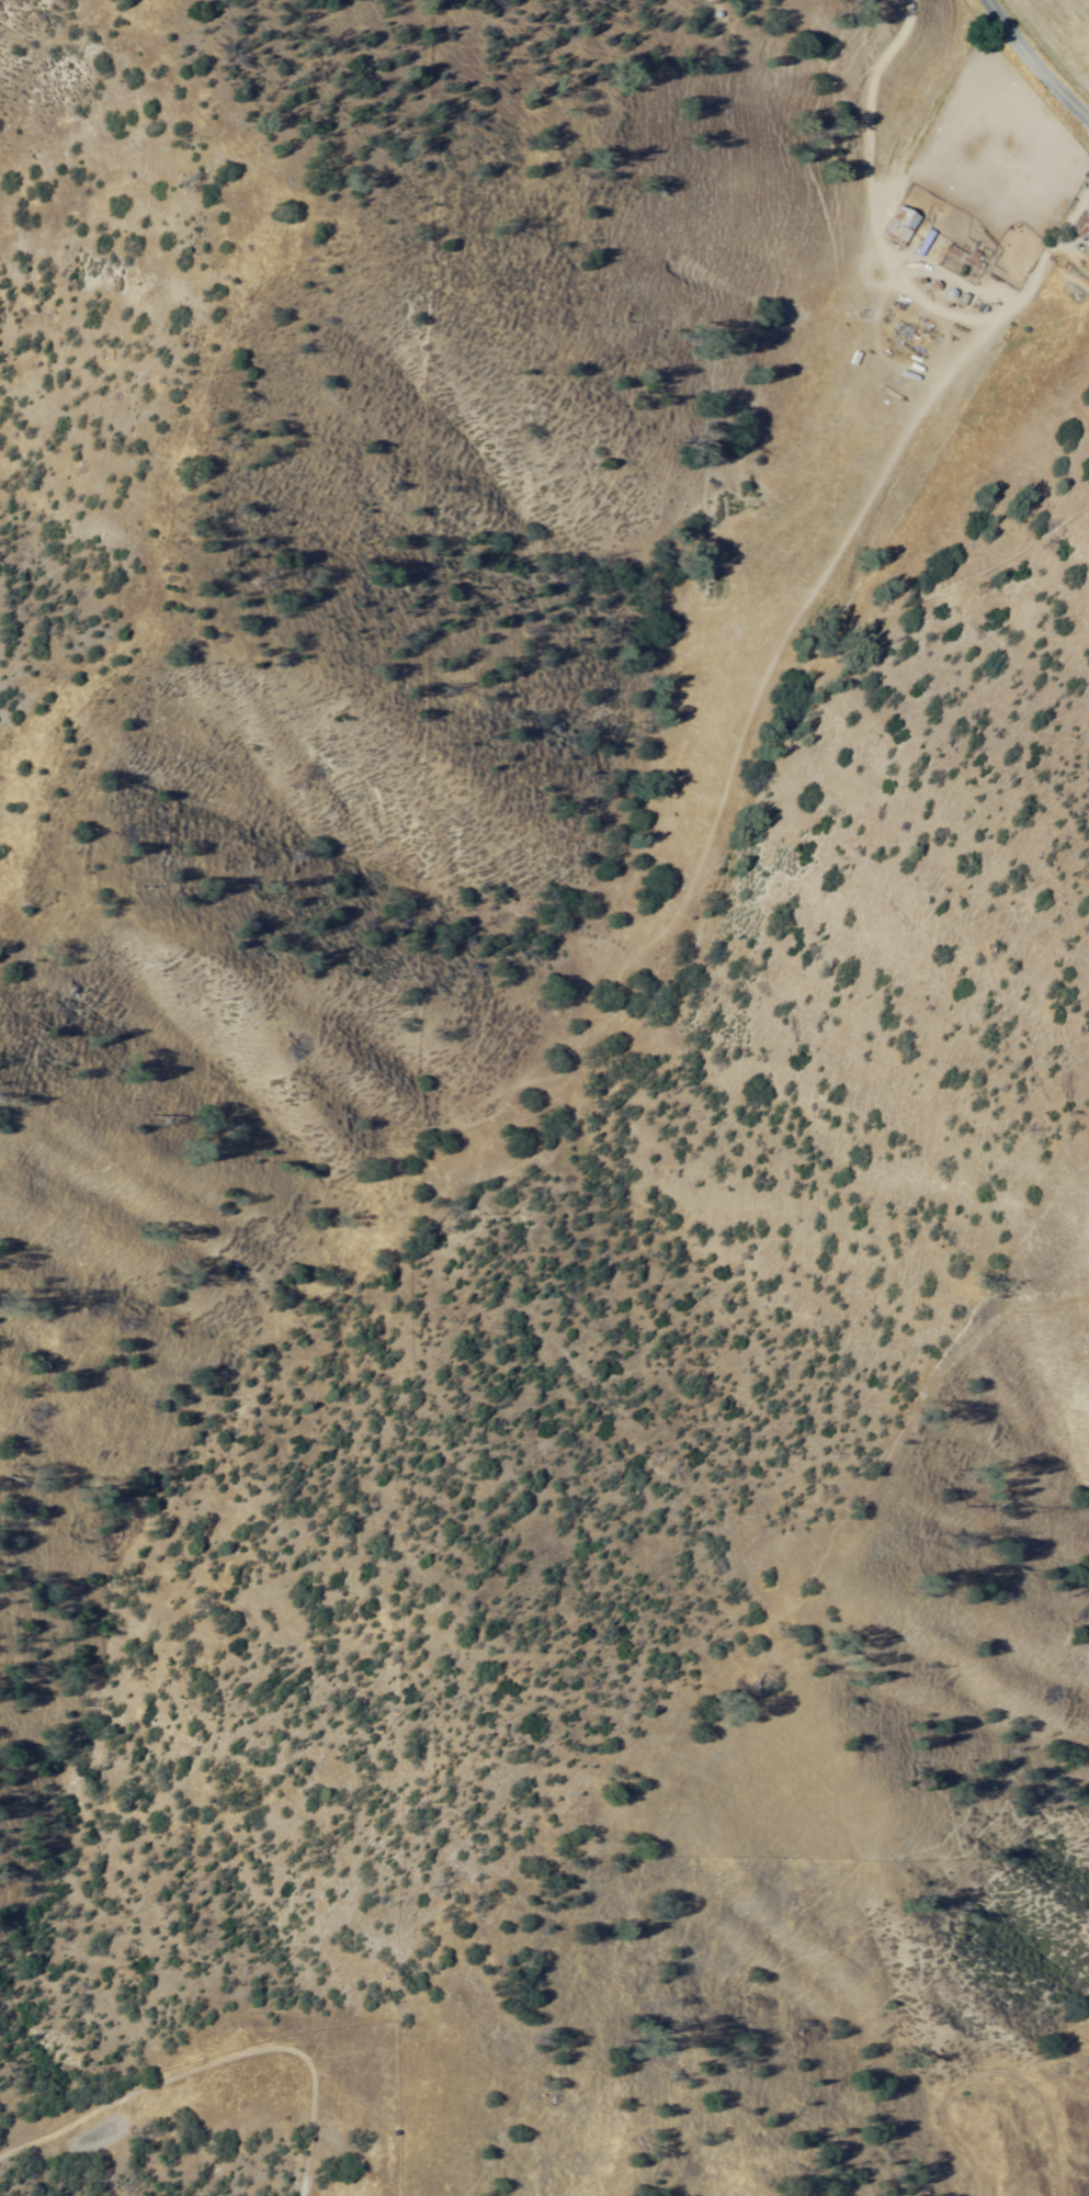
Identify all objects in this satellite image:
crop: (1062, 27)
road: (1034, 63)
building: (1080, 224)
building: (899, 227)
building: (962, 258)
road: (889, 264)

